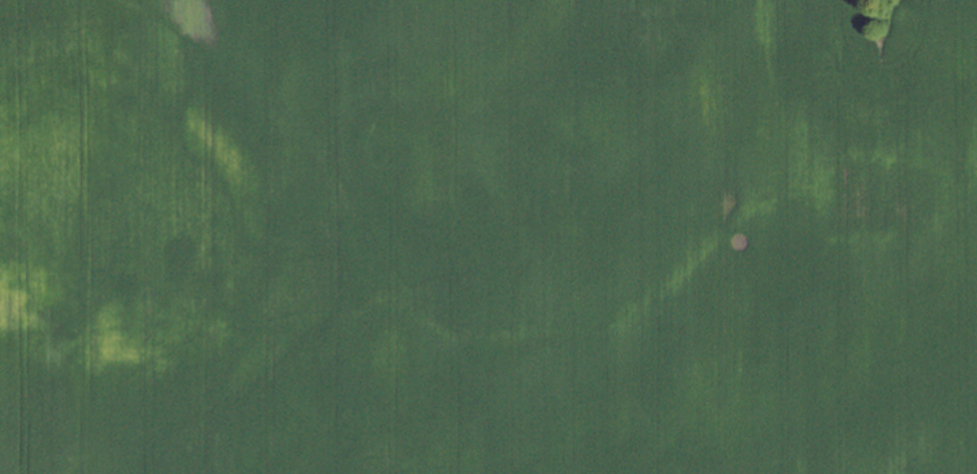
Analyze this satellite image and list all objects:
crop: (488, 237)

